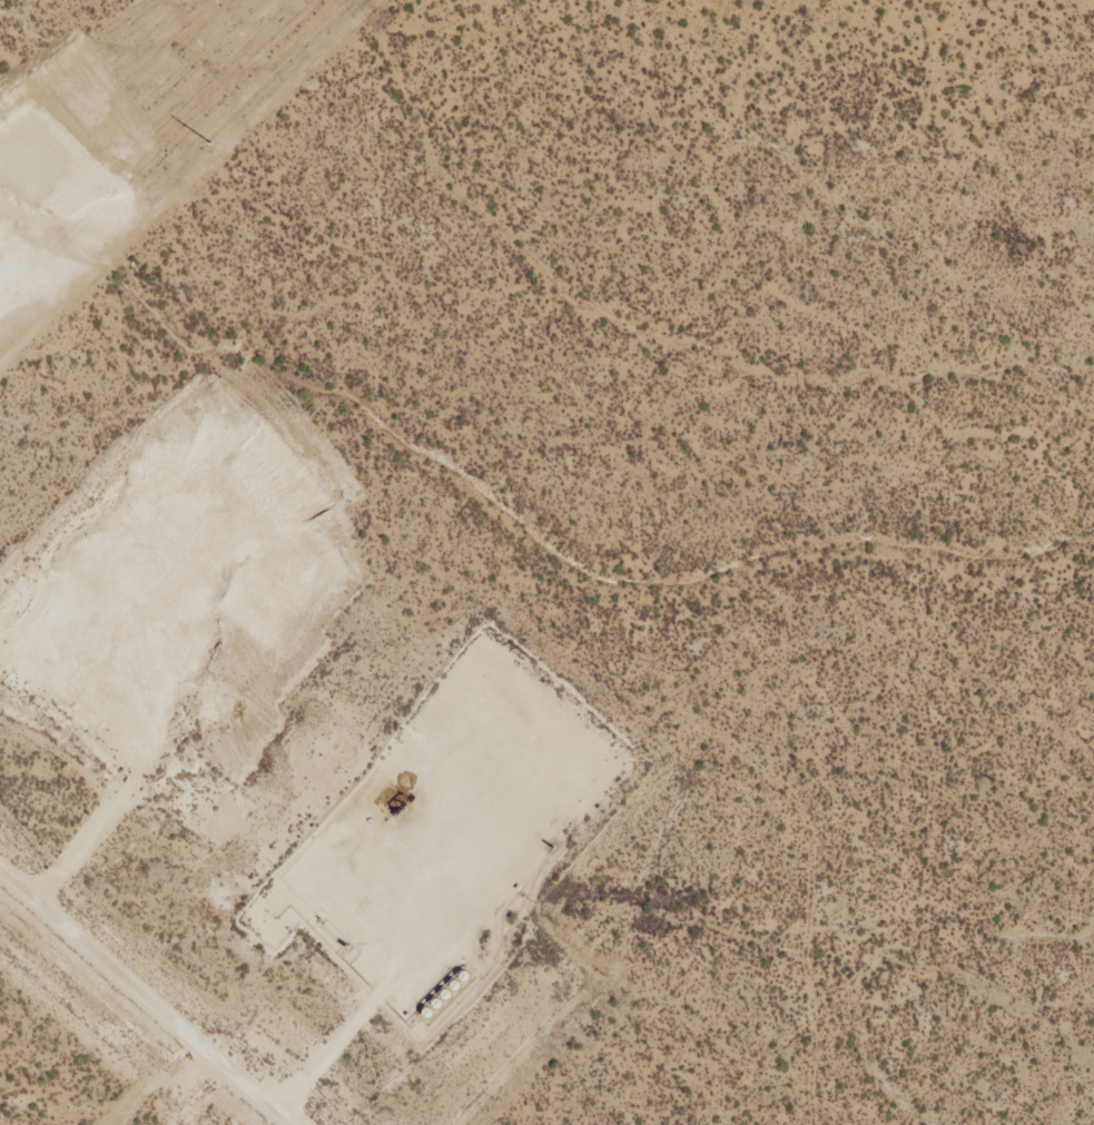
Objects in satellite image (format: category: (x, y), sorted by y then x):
road: (141, 999)
road: (332, 1038)

